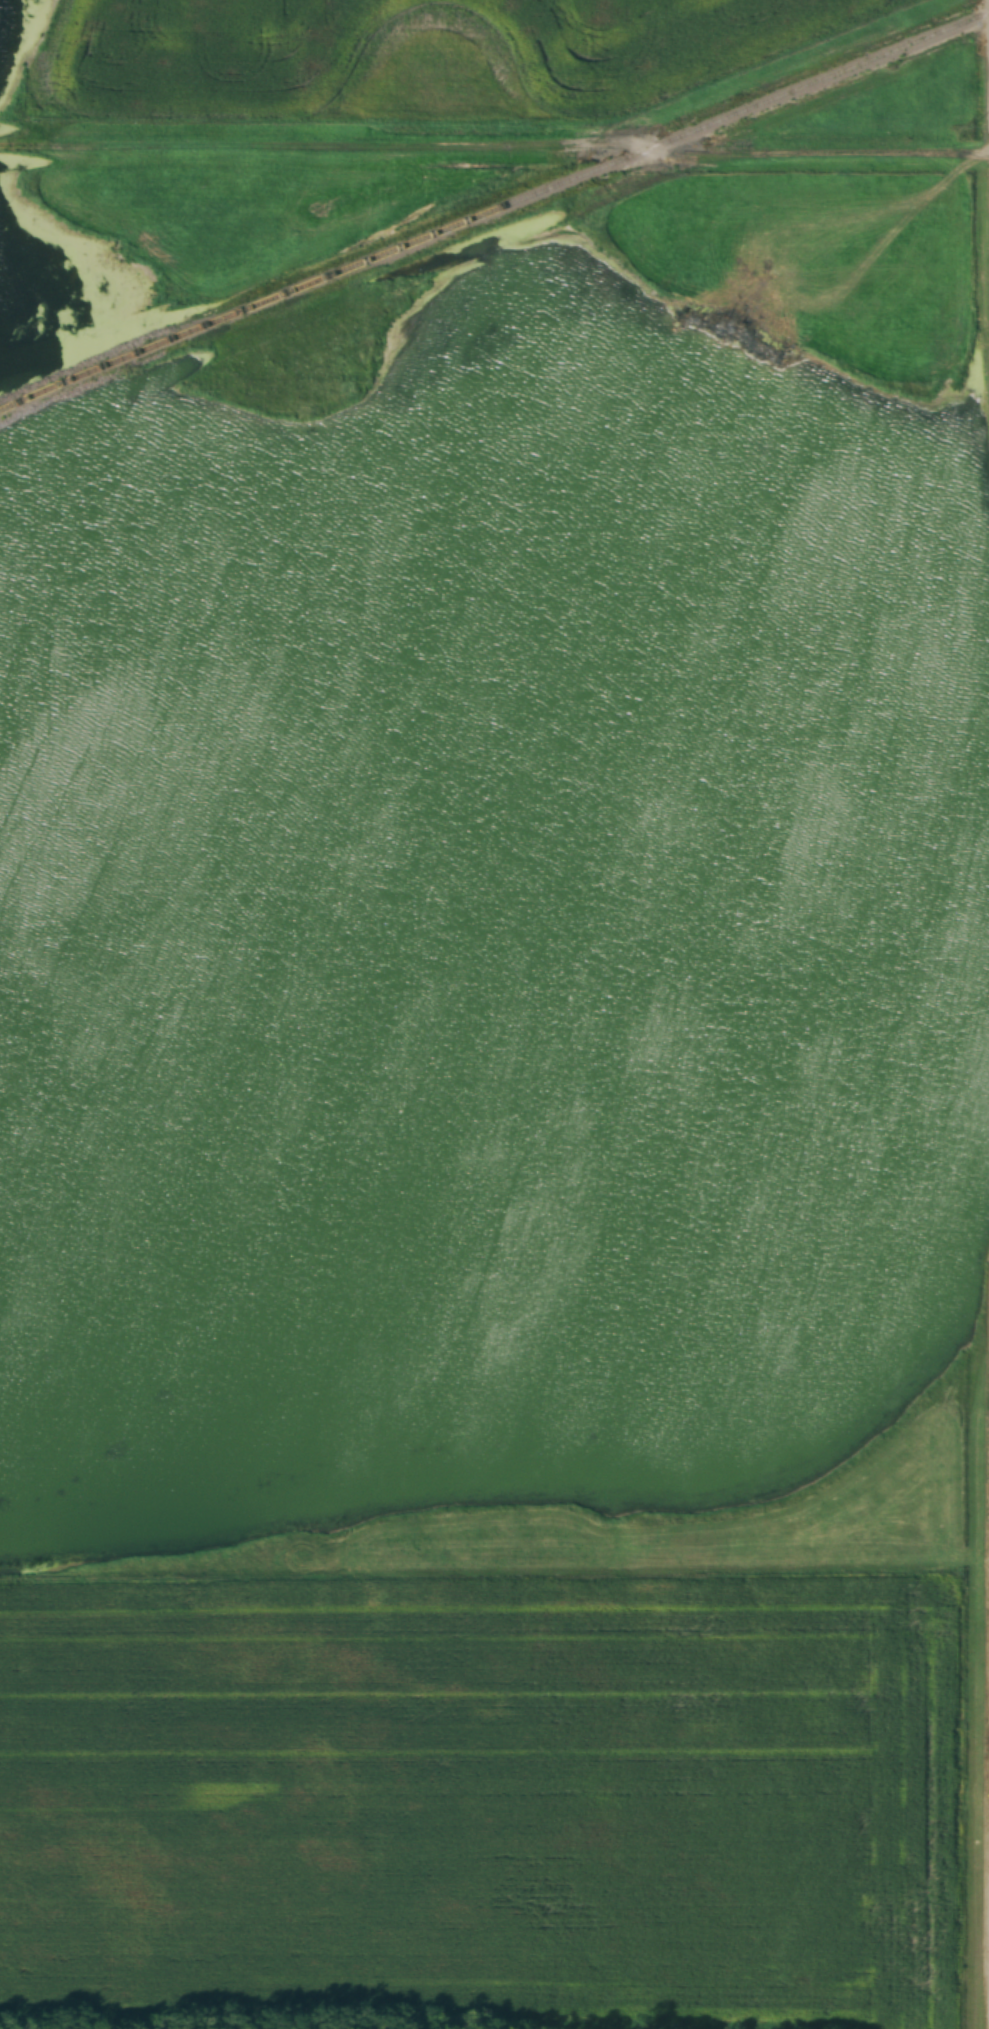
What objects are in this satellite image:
road: (494, 148)
railway: (493, 210)

